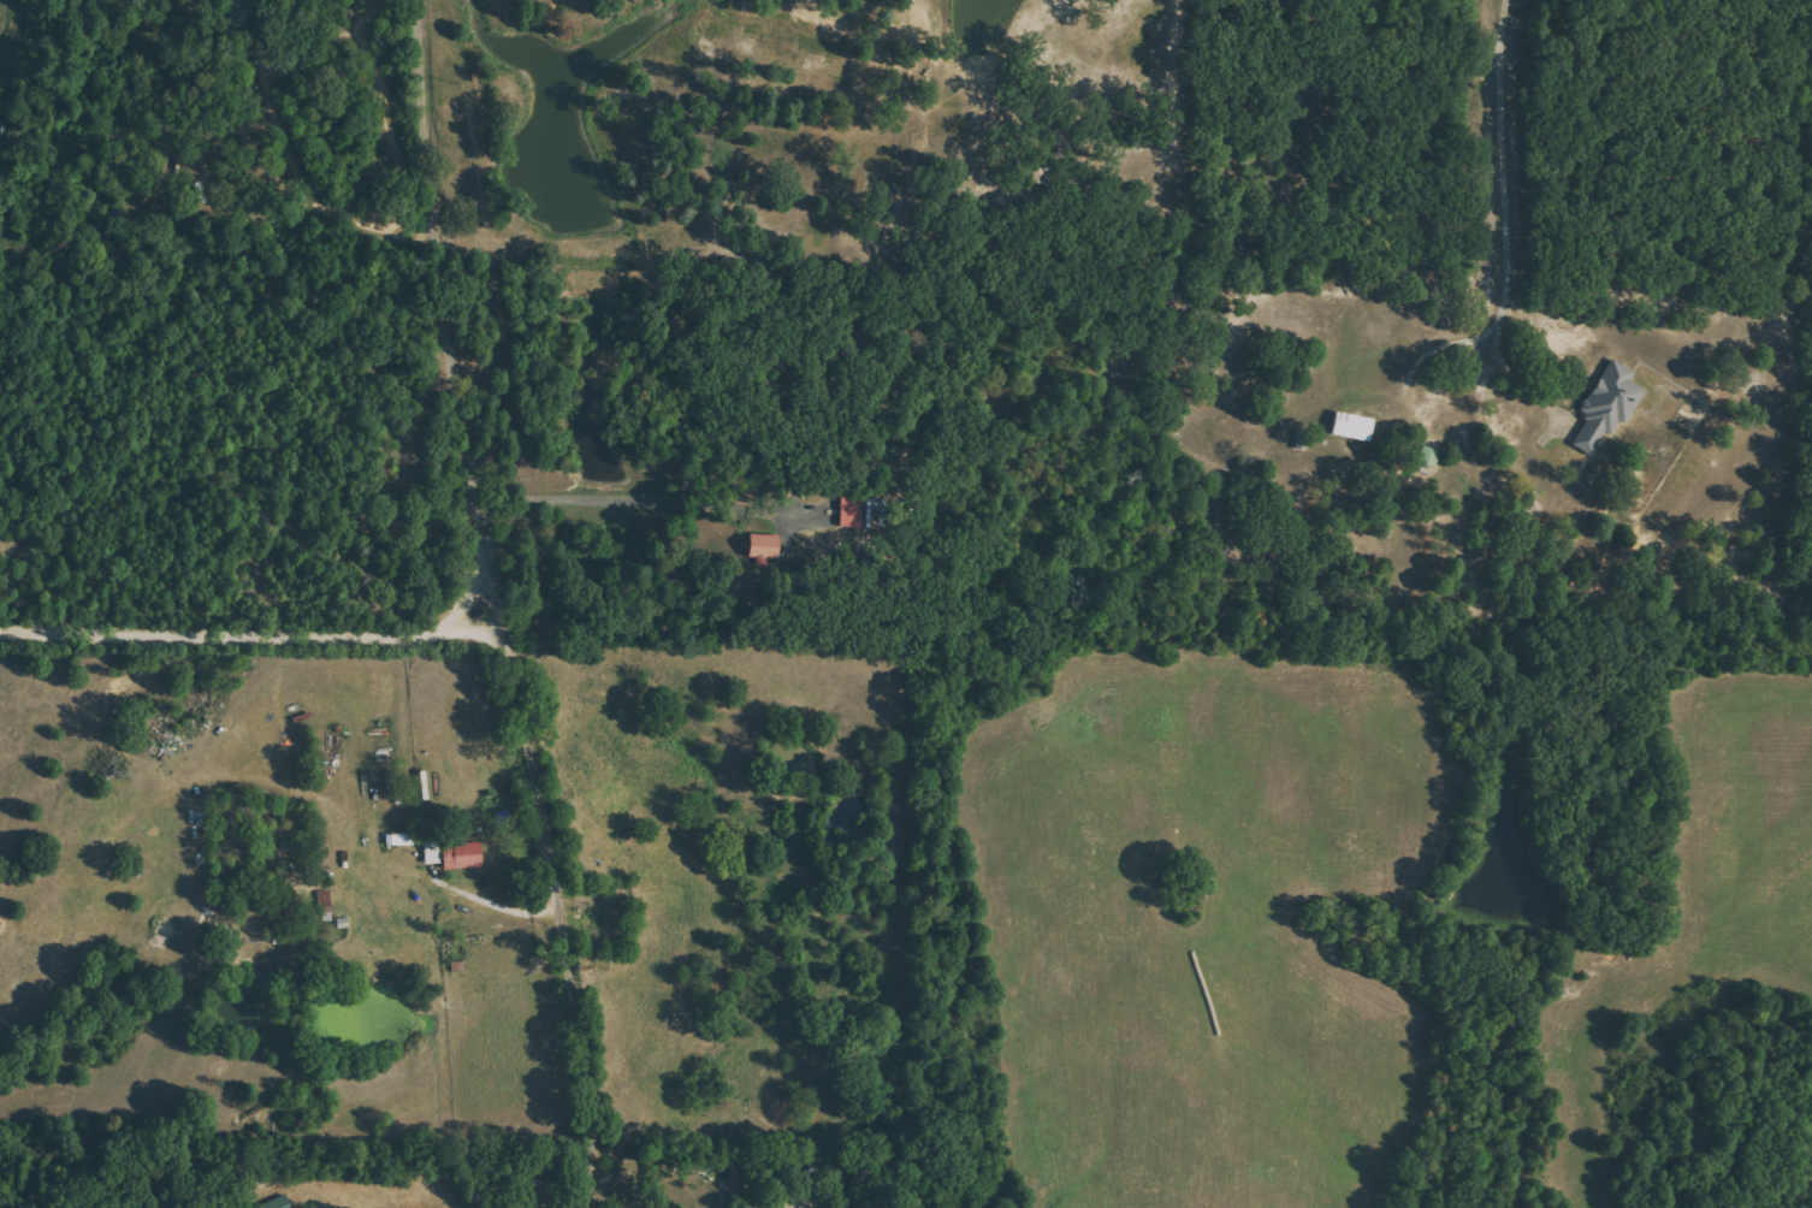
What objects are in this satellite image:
building: (241, 12)
road: (1511, 235)
road: (455, 315)
building: (1607, 405)
building: (1352, 426)
building: (1428, 456)
road: (649, 503)
building: (763, 546)
road: (521, 670)
building: (399, 840)
building: (461, 857)
road: (491, 901)
building: (324, 906)

